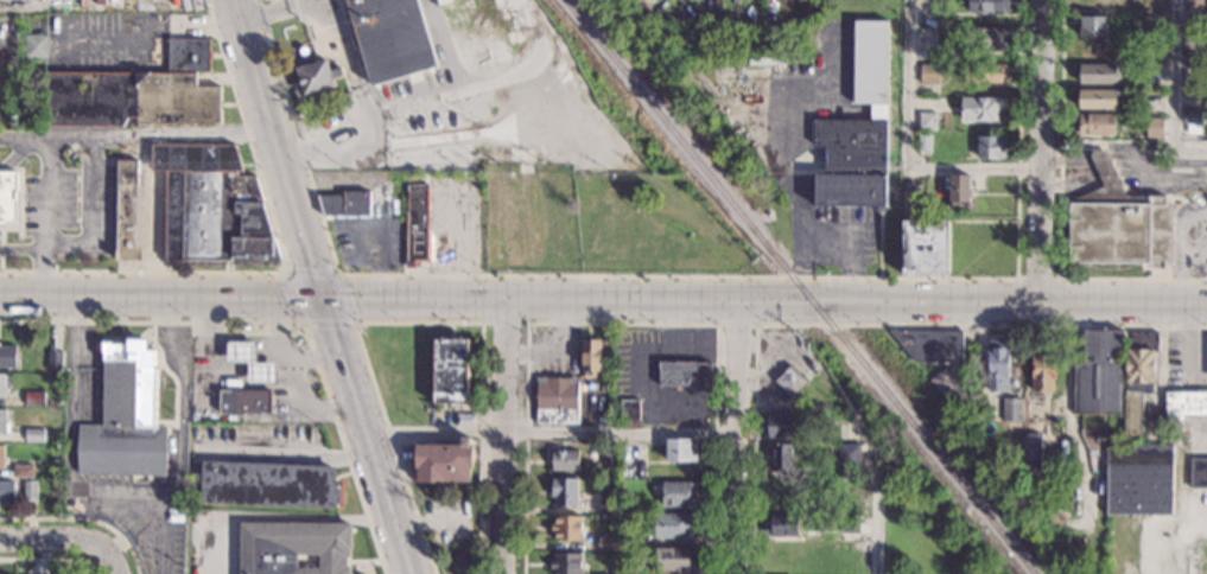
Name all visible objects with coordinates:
building: (443, 1)
building: (1098, 4)
building: (1151, 4)
building: (1194, 5)
building: (989, 6)
building: (1093, 26)
building: (1194, 28)
building: (927, 37)
building: (986, 39)
building: (412, 42)
building: (453, 42)
building: (36, 45)
building: (1150, 46)
building: (1098, 49)
building: (355, 53)
building: (189, 55)
building: (1194, 59)
building: (984, 72)
building: (1098, 72)
building: (929, 74)
building: (315, 76)
building: (1154, 78)
building: (1192, 87)
road: (1174, 88)
building: (128, 98)
building: (1097, 98)
building: (1155, 104)
building: (982, 107)
building: (927, 120)
building: (1192, 121)
building: (1093, 125)
building: (1154, 127)
building: (858, 128)
road: (159, 133)
road: (24, 134)
building: (923, 141)
building: (991, 147)
road: (277, 148)
road: (1041, 151)
road: (907, 152)
road: (1101, 161)
road: (1066, 162)
road: (1138, 164)
road: (1162, 174)
road: (1107, 176)
road: (1068, 185)
building: (959, 193)
building: (8, 196)
building: (345, 203)
building: (210, 204)
building: (128, 210)
road: (1057, 213)
building: (417, 223)
building: (1118, 223)
road: (1182, 227)
building: (923, 247)
road: (63, 248)
road: (20, 249)
road: (1194, 256)
road: (281, 269)
road: (39, 272)
road: (672, 276)
road: (1035, 279)
road: (1181, 280)
railway: (798, 287)
road: (160, 295)
traffic signals: (322, 299)
road: (764, 300)
road: (170, 313)
road: (284, 320)
road: (351, 323)
road: (411, 323)
road: (504, 323)
road: (621, 323)
road: (736, 324)
road: (856, 324)
road: (77, 326)
road: (170, 342)
building: (932, 345)
building: (589, 355)
building: (7, 356)
building: (53, 361)
building: (252, 363)
building: (998, 365)
road: (182, 366)
building: (449, 371)
building: (1042, 371)
building: (1099, 374)
building: (685, 375)
building: (1138, 378)
building: (789, 381)
building: (2, 384)
building: (946, 385)
road: (74, 395)
building: (34, 398)
building: (557, 400)
building: (249, 401)
building: (1184, 404)
building: (629, 409)
building: (1012, 410)
building: (617, 415)
building: (125, 416)
building: (249, 420)
building: (464, 420)
building: (4, 422)
building: (1034, 423)
building: (783, 426)
building: (1154, 429)
road: (549, 432)
building: (34, 435)
road: (366, 435)
road: (503, 435)
road: (733, 436)
road: (1190, 440)
building: (681, 449)
building: (1011, 451)
building: (1031, 452)
building: (609, 453)
building: (849, 453)
building: (1062, 453)
road: (284, 455)
building: (1, 457)
building: (781, 458)
road: (180, 460)
building: (564, 460)
building: (443, 461)
building: (631, 467)
road: (70, 470)
building: (23, 471)
building: (1199, 472)
building: (1139, 478)
building: (268, 484)
building: (6, 490)
building: (26, 490)
building: (564, 491)
building: (679, 493)
building: (781, 495)
road: (112, 497)
building: (852, 497)
building: (606, 503)
road: (273, 516)
road: (877, 516)
road: (83, 518)
road: (449, 523)
building: (674, 523)
building: (849, 524)
building: (782, 525)
building: (566, 528)
road: (161, 535)
road: (51, 541)
building: (629, 541)
parking lot: (214, 542)
building: (605, 543)
building: (293, 547)
building: (674, 557)
road: (50, 560)
road: (112, 560)
road: (362, 561)
building: (565, 563)
building: (611, 570)
building: (629, 570)
building: (599, 573)

